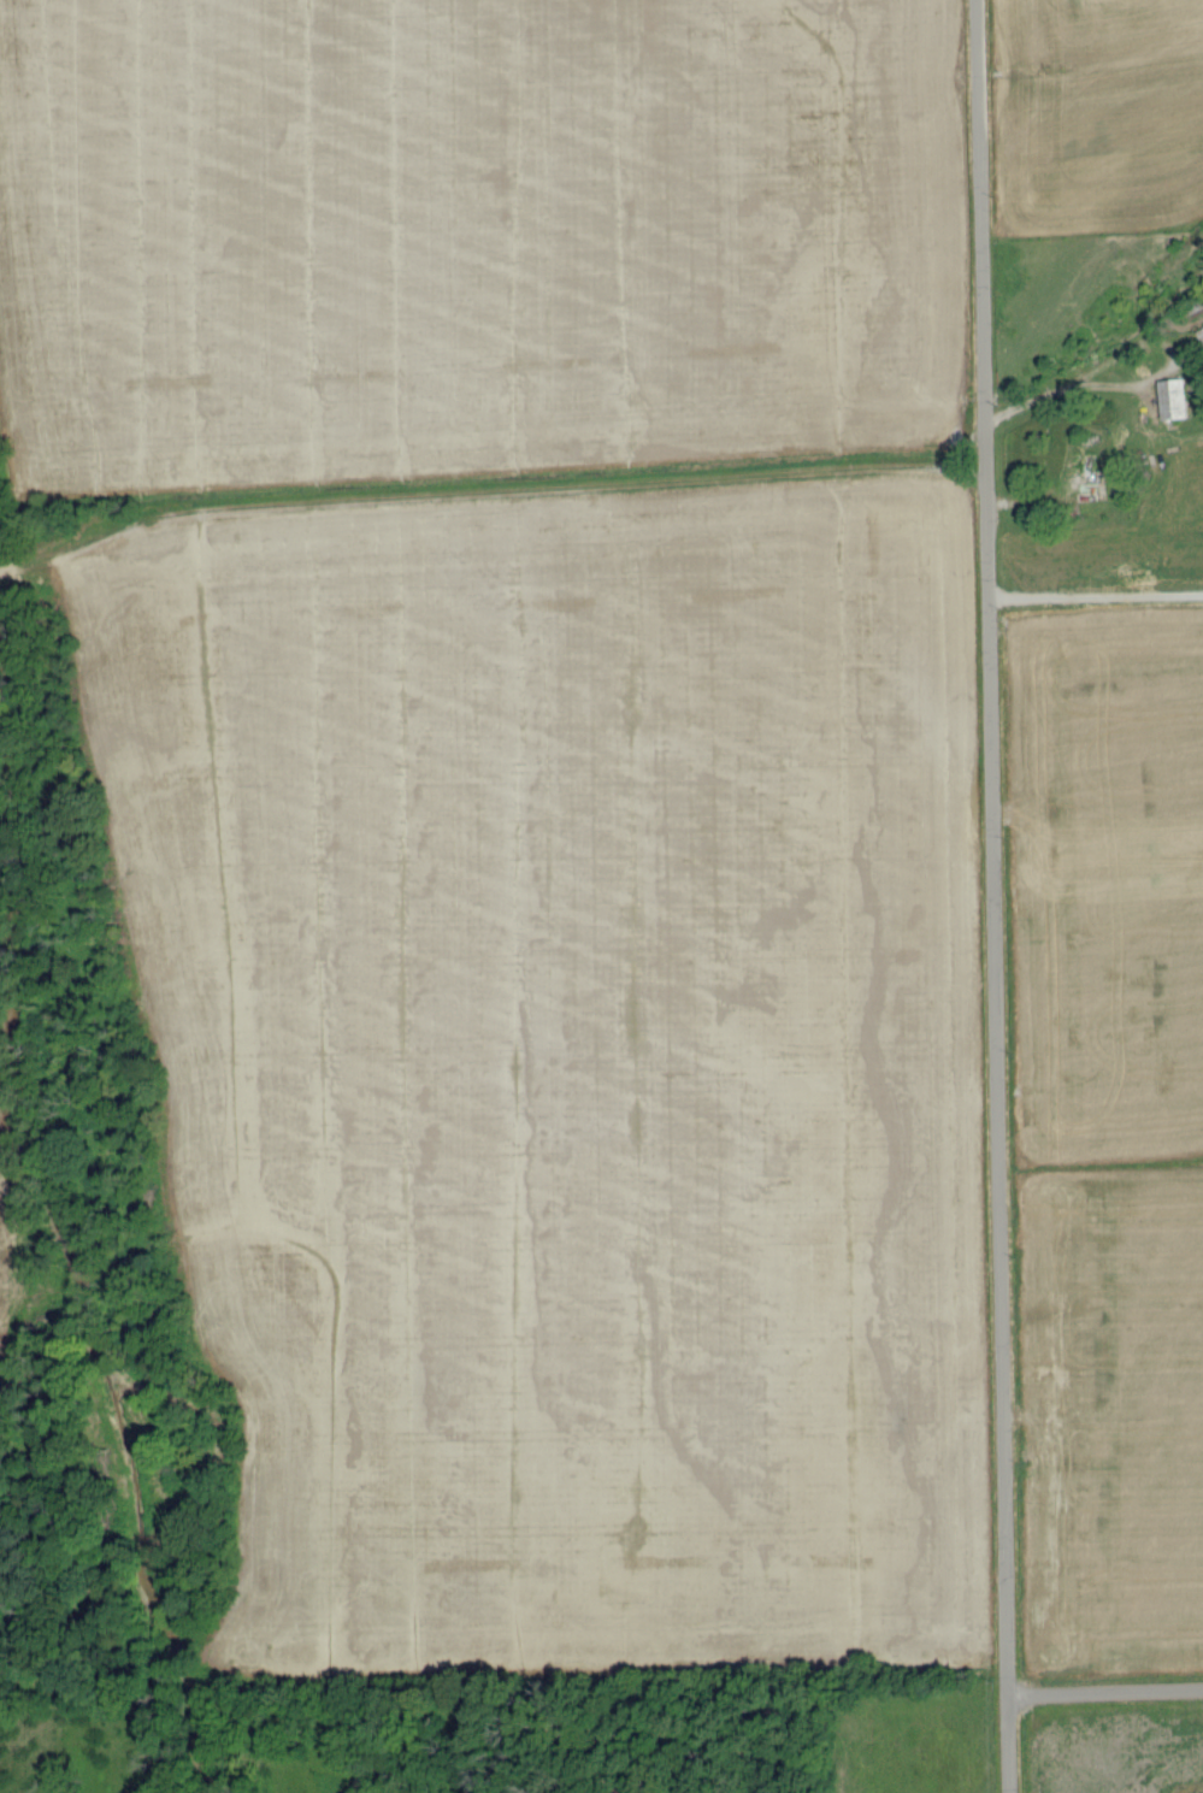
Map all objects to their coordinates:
building: (1201, 332)
road: (1055, 382)
building: (1173, 399)
road: (990, 896)
road: (1105, 1695)

